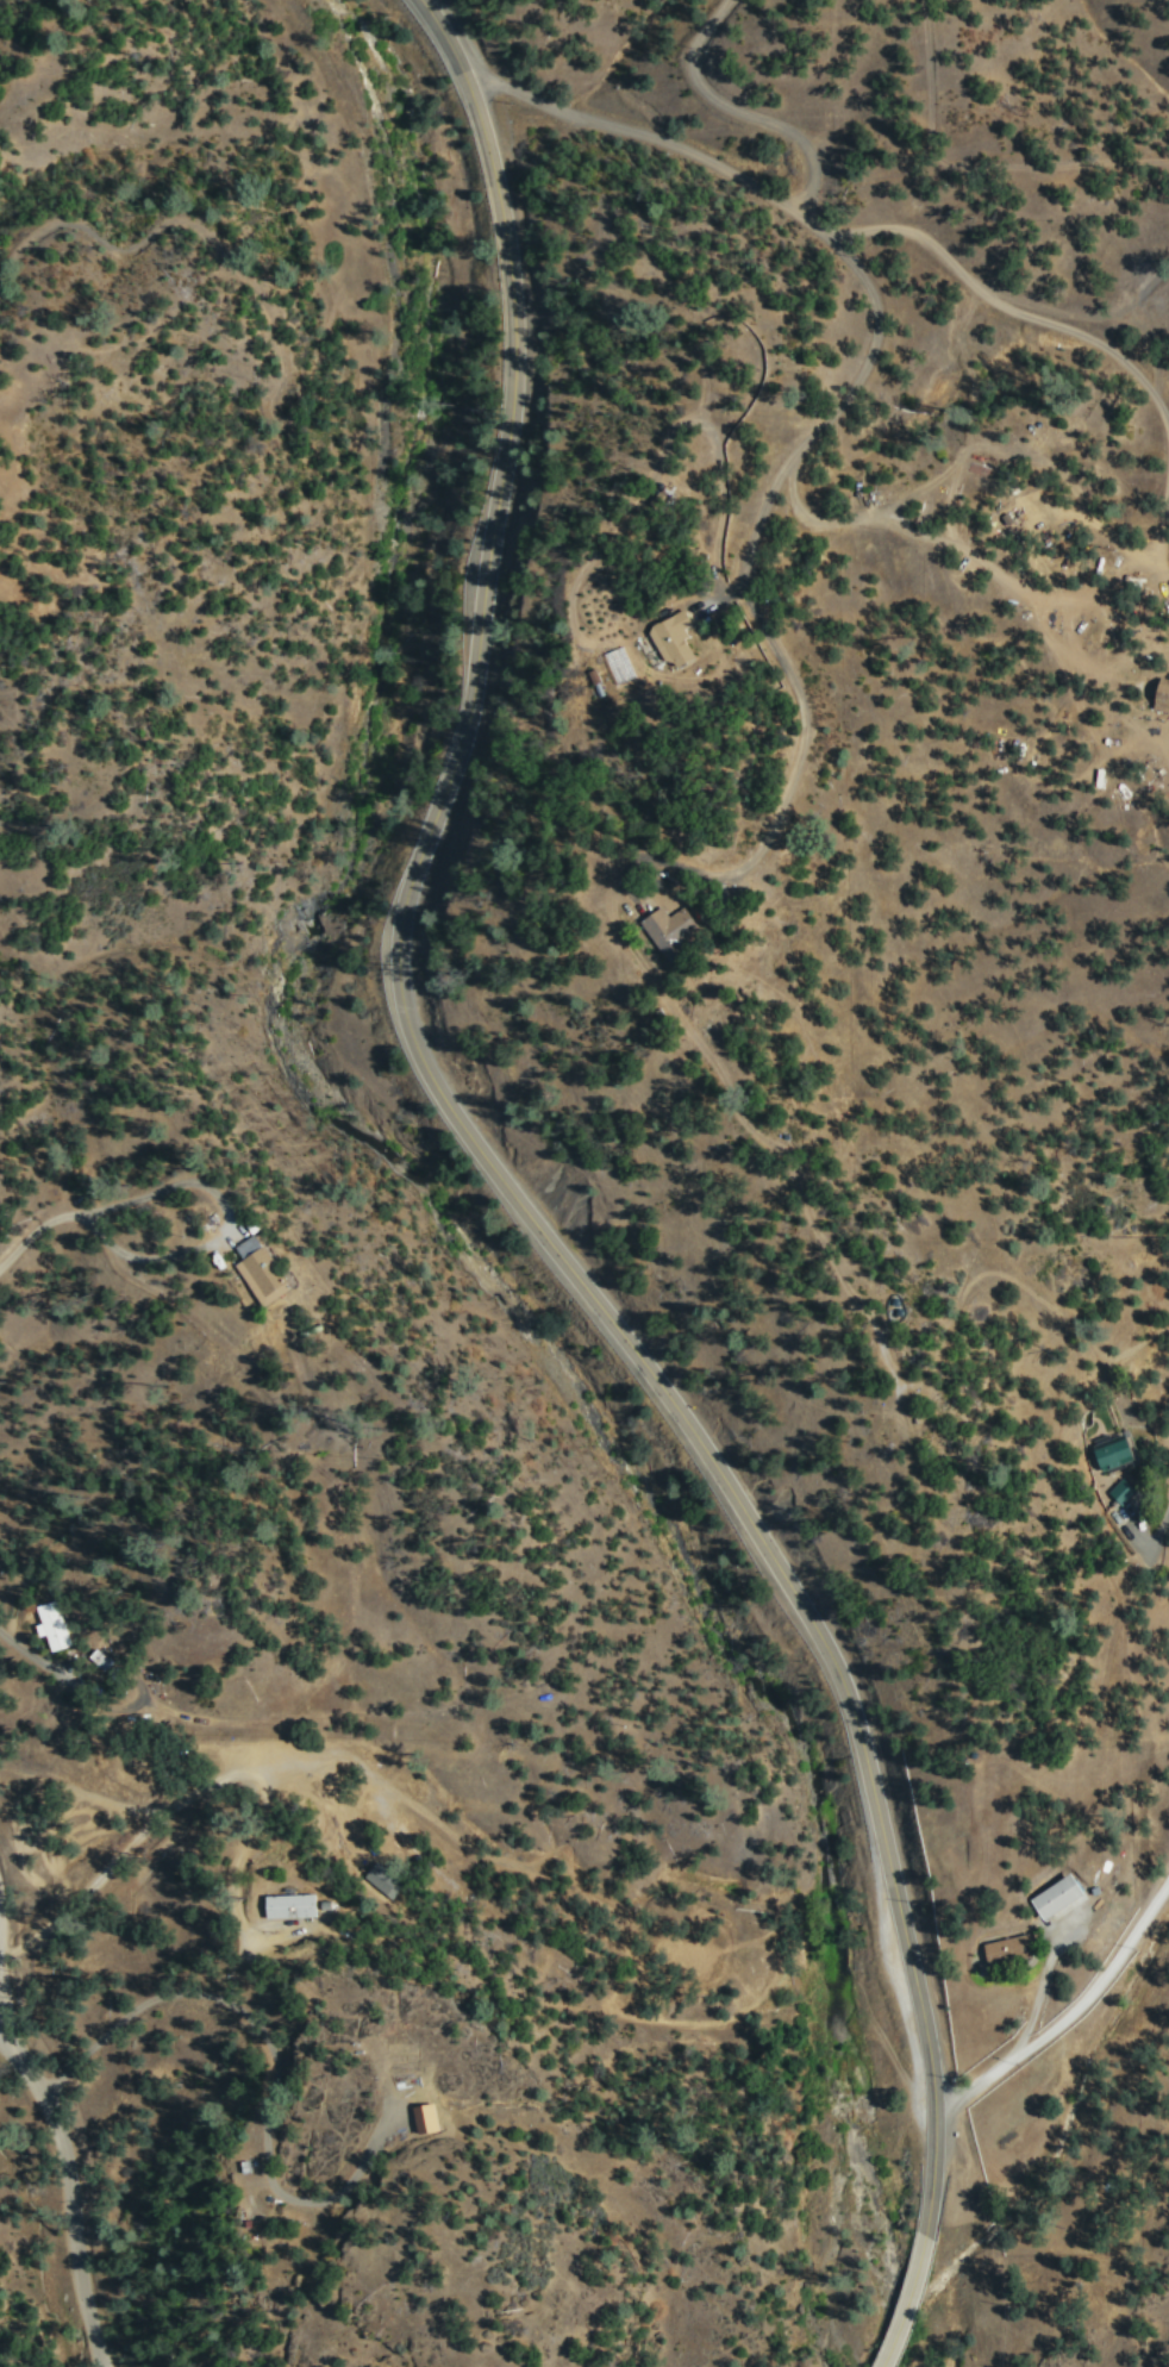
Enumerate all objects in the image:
road: (1084, 314)
building: (674, 637)
building: (1162, 694)
building: (675, 930)
road: (449, 1097)
river: (421, 1193)
building: (274, 1272)
building: (1115, 1450)
building: (1121, 1489)
road: (1154, 1543)
building: (52, 1625)
road: (132, 1809)
building: (380, 1875)
building: (1057, 1894)
building: (292, 1904)
road: (4, 1931)
building: (1011, 1947)
road: (1073, 2021)
road: (933, 2169)
road: (77, 2185)
road: (908, 2302)
river: (902, 2363)

